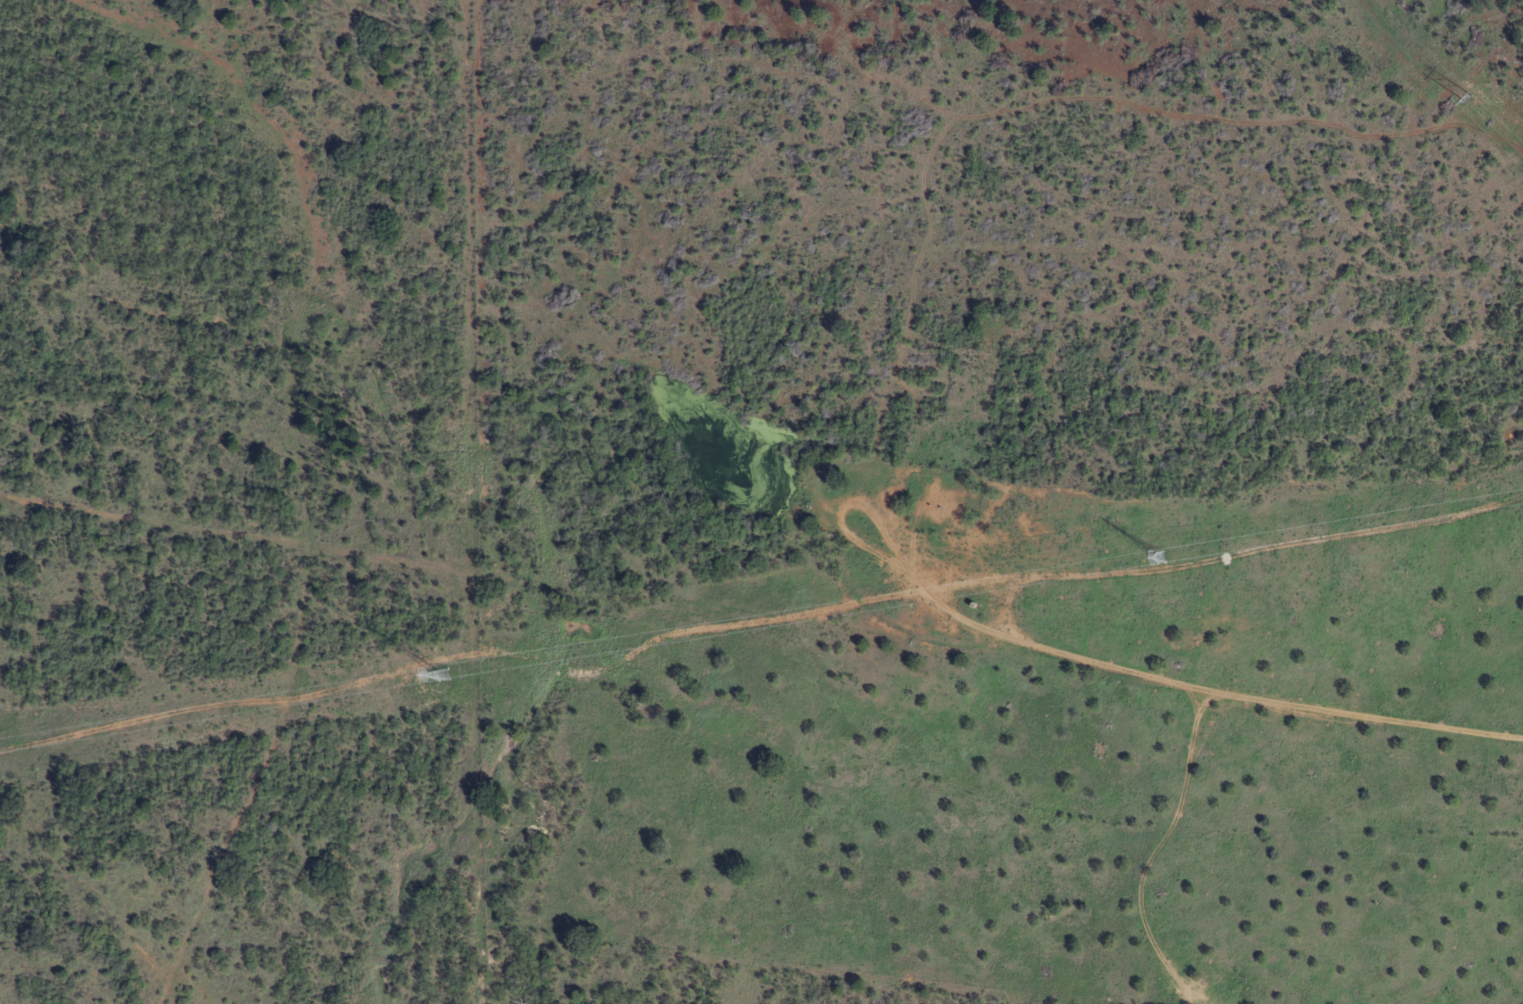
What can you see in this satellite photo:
power tower: (1467, 98)
power tower: (1155, 561)
road: (721, 622)
power tower: (464, 674)

